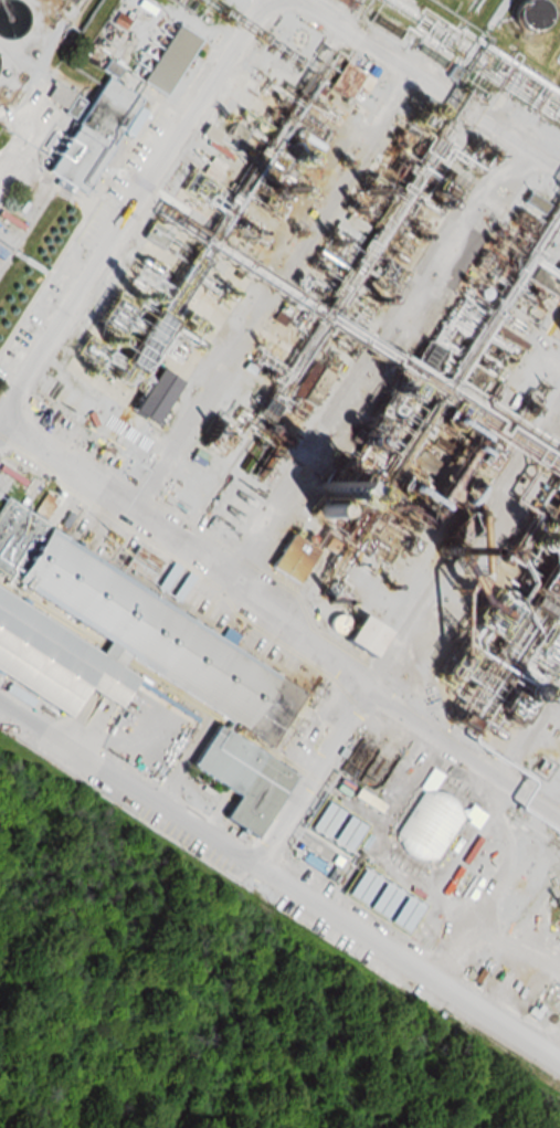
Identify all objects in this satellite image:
road: (427, 83)
building: (87, 135)
road: (134, 203)
road: (279, 616)

